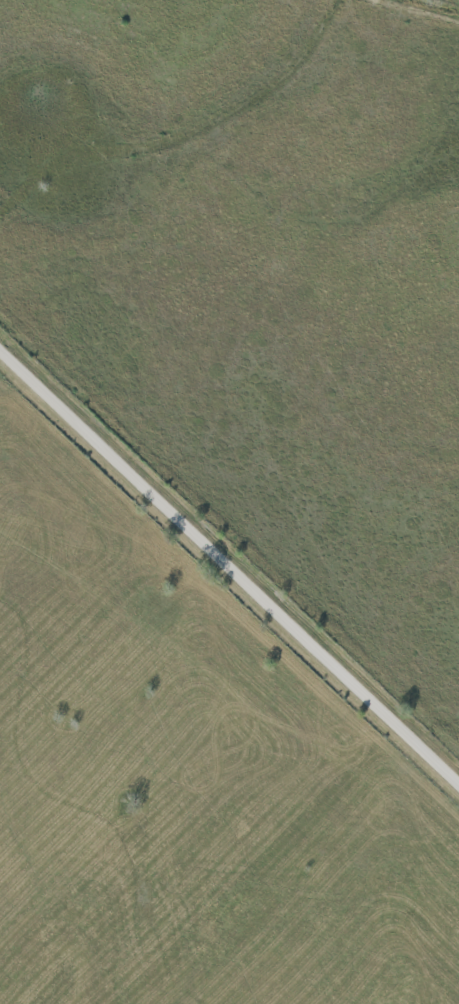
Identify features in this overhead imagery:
road: (229, 559)

